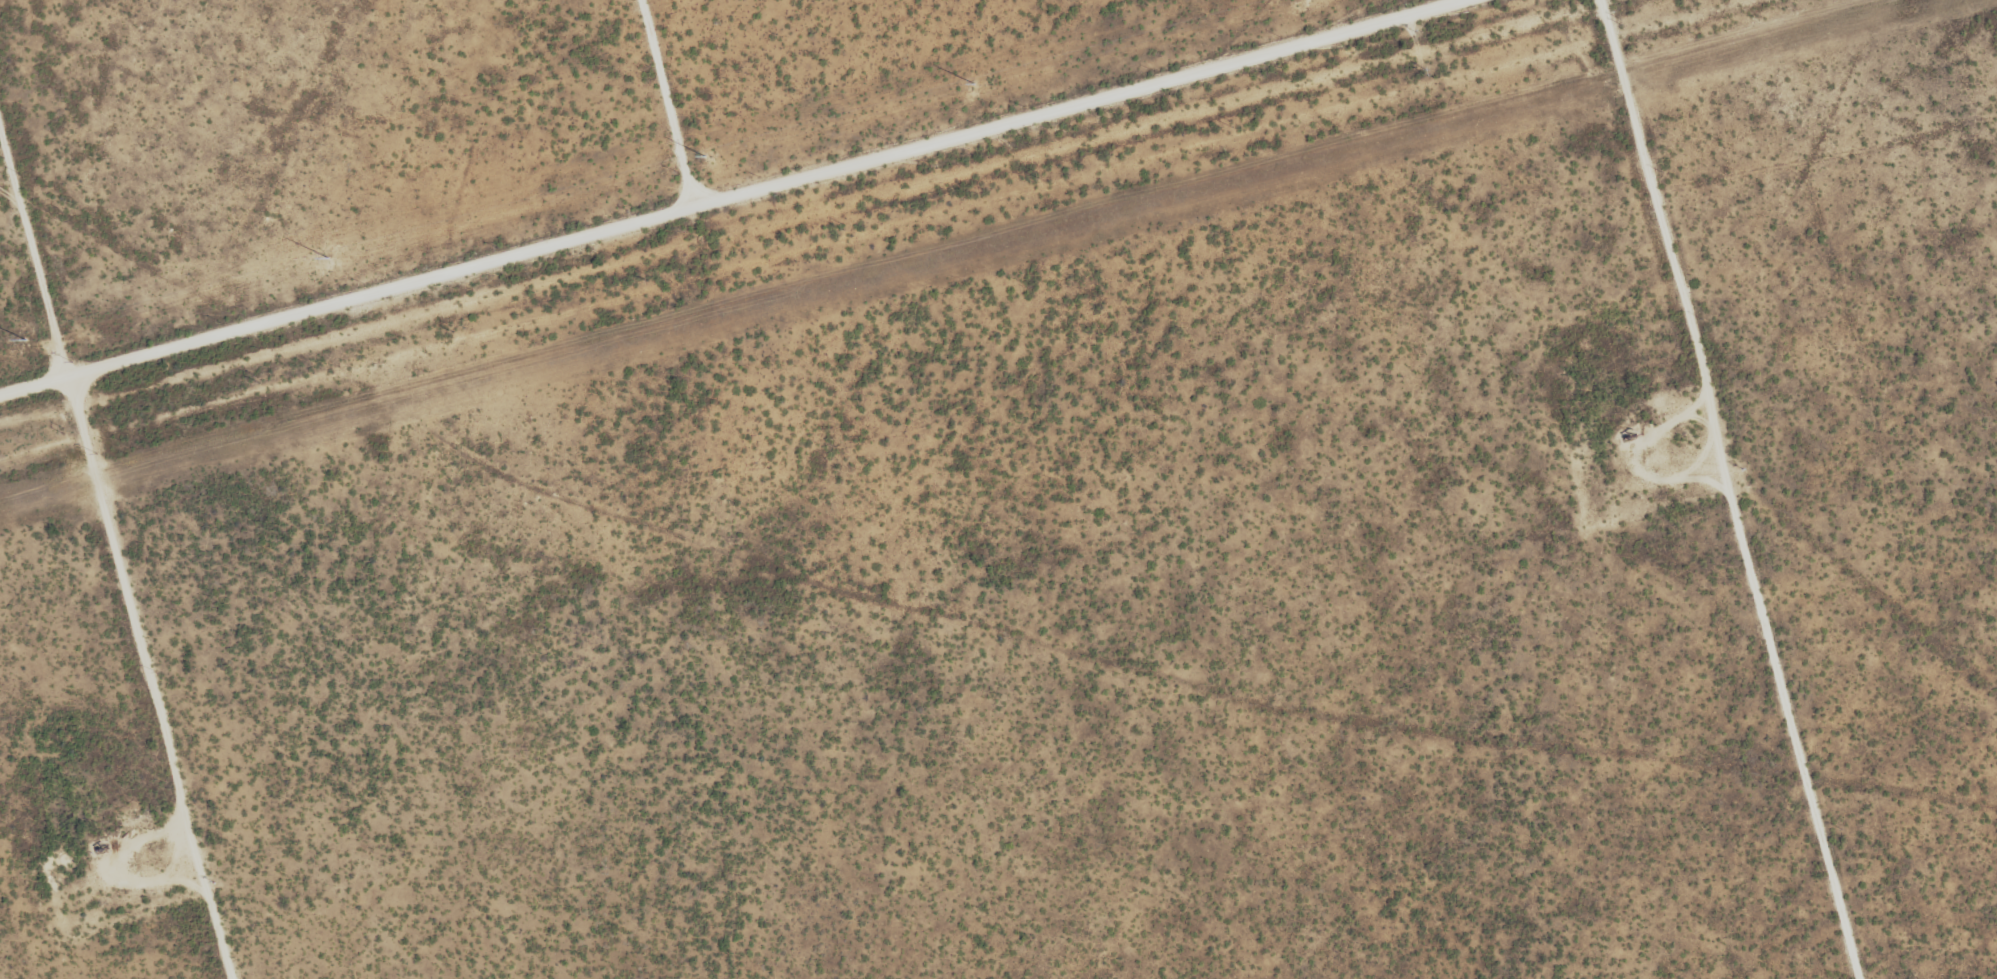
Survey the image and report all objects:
road: (734, 197)
road: (117, 563)

